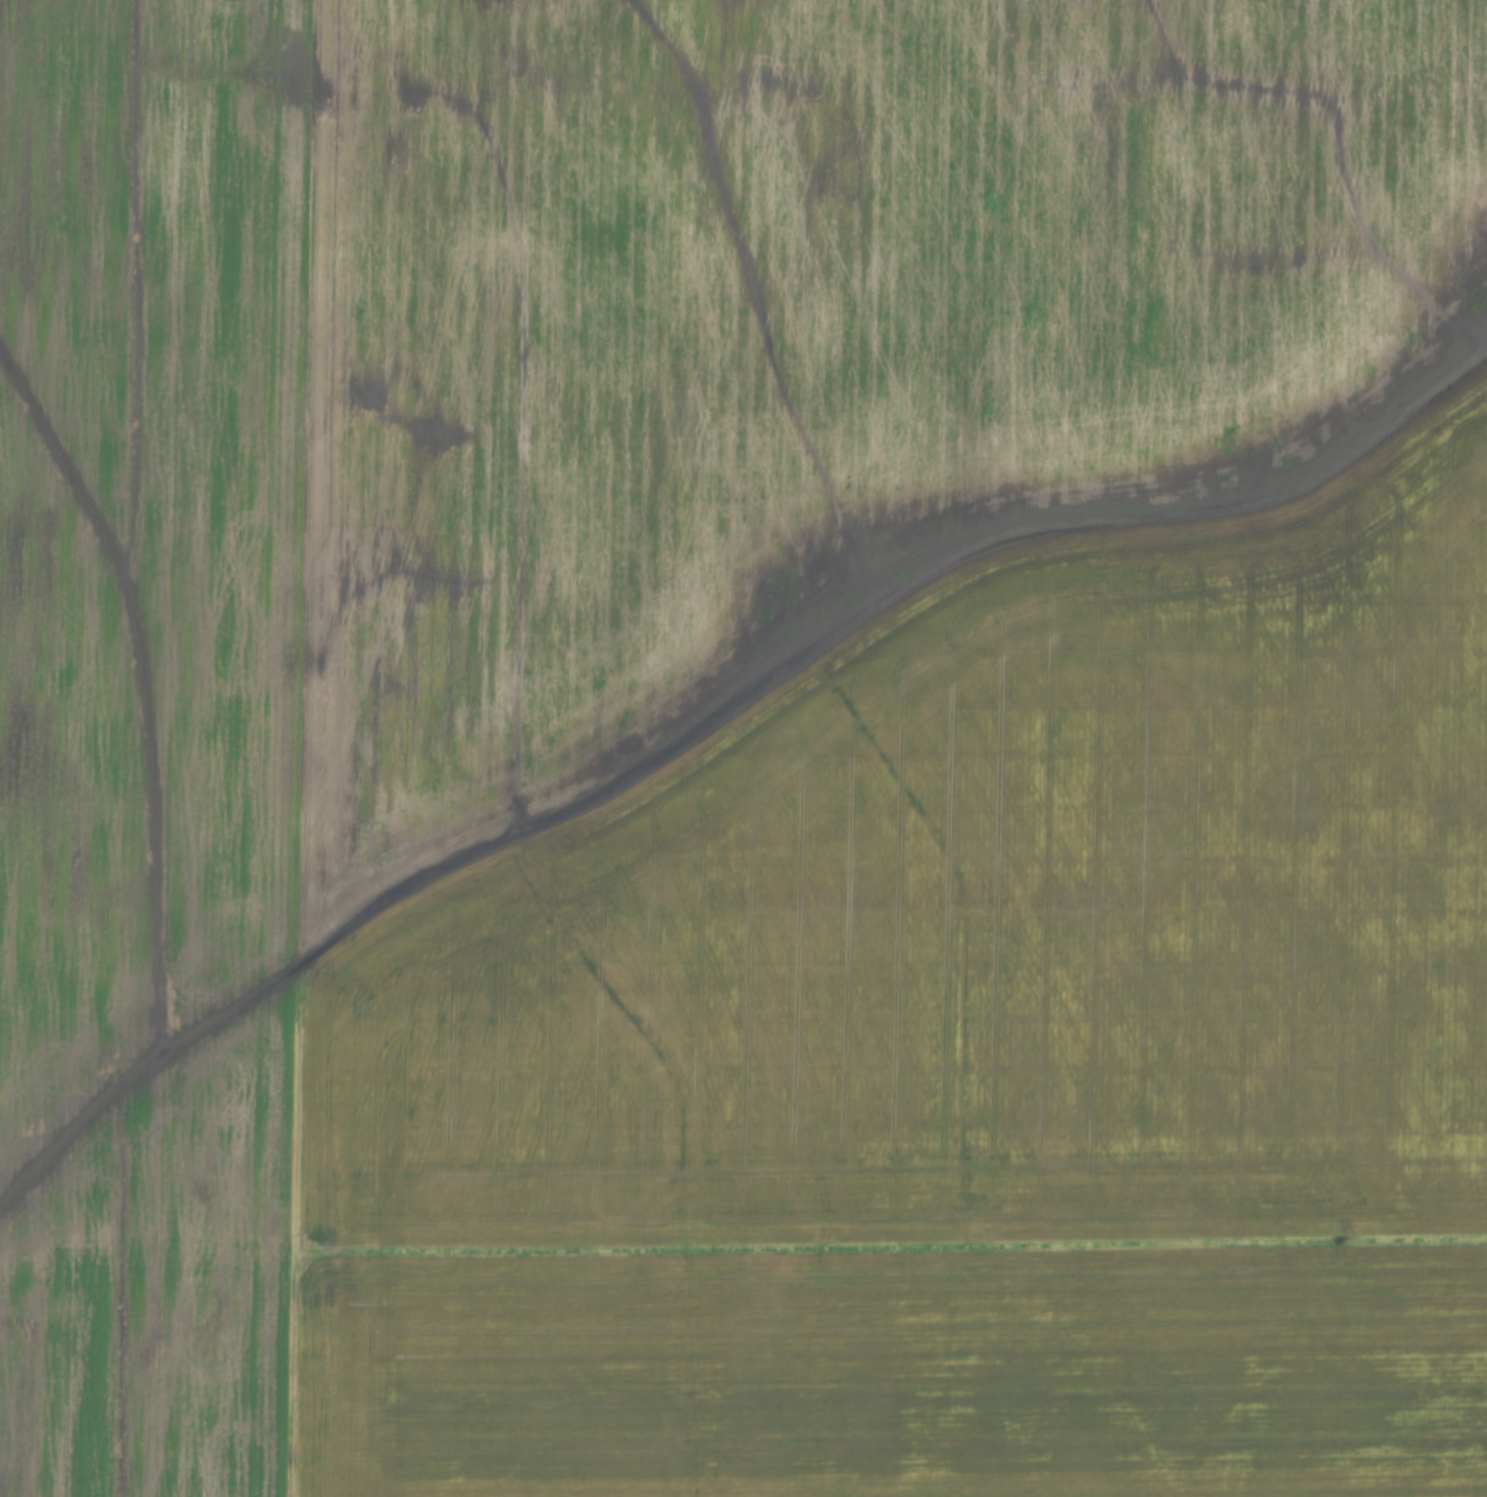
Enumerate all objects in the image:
crop: (896, 623)
crop: (153, 740)
crop: (905, 1375)

